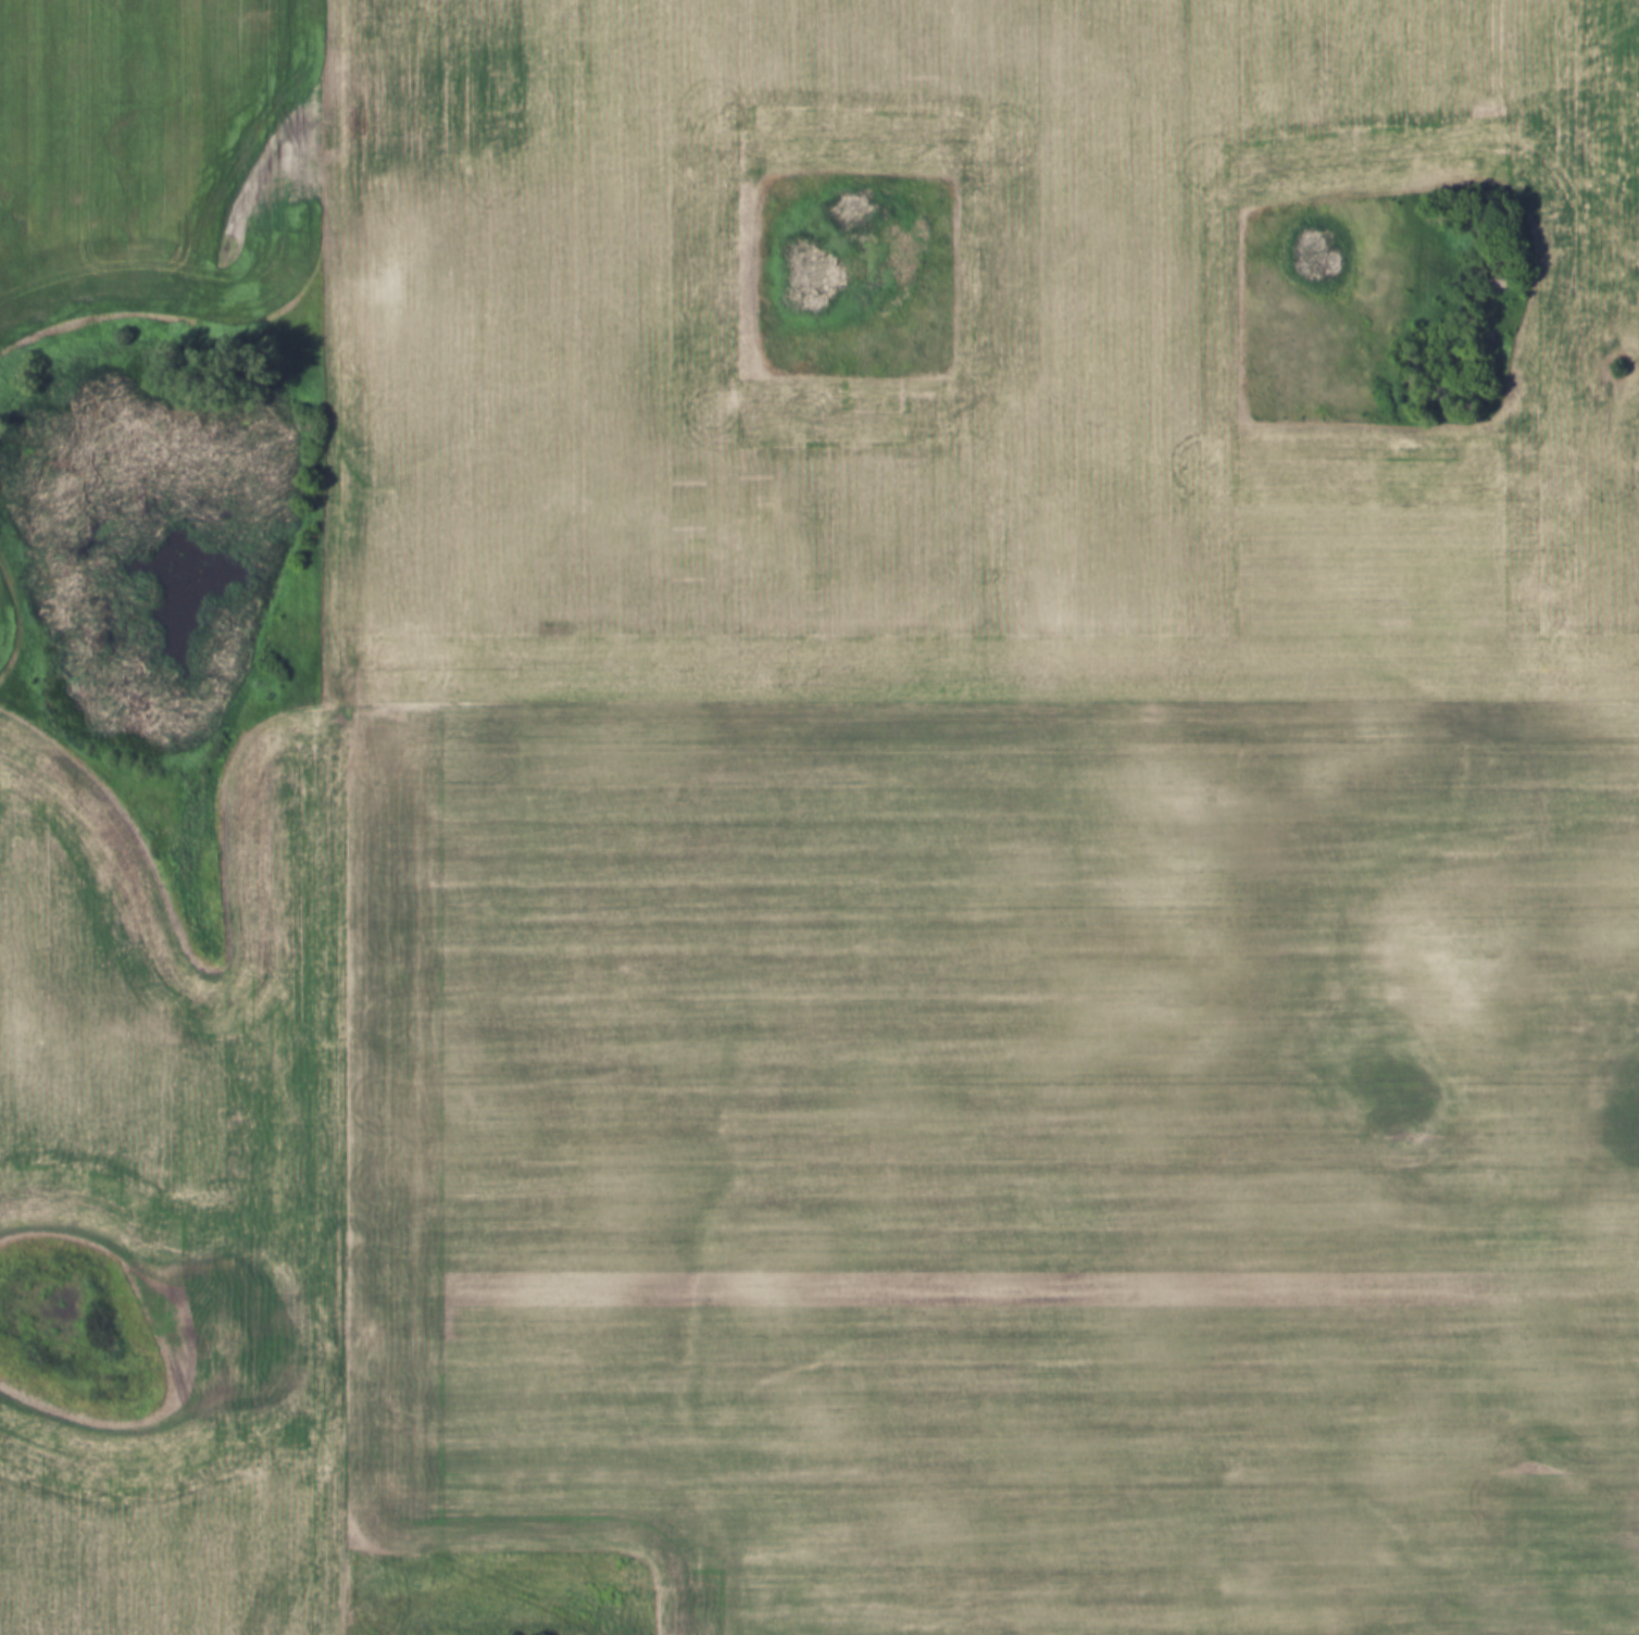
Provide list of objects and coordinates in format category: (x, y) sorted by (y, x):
road: (318, 818)

